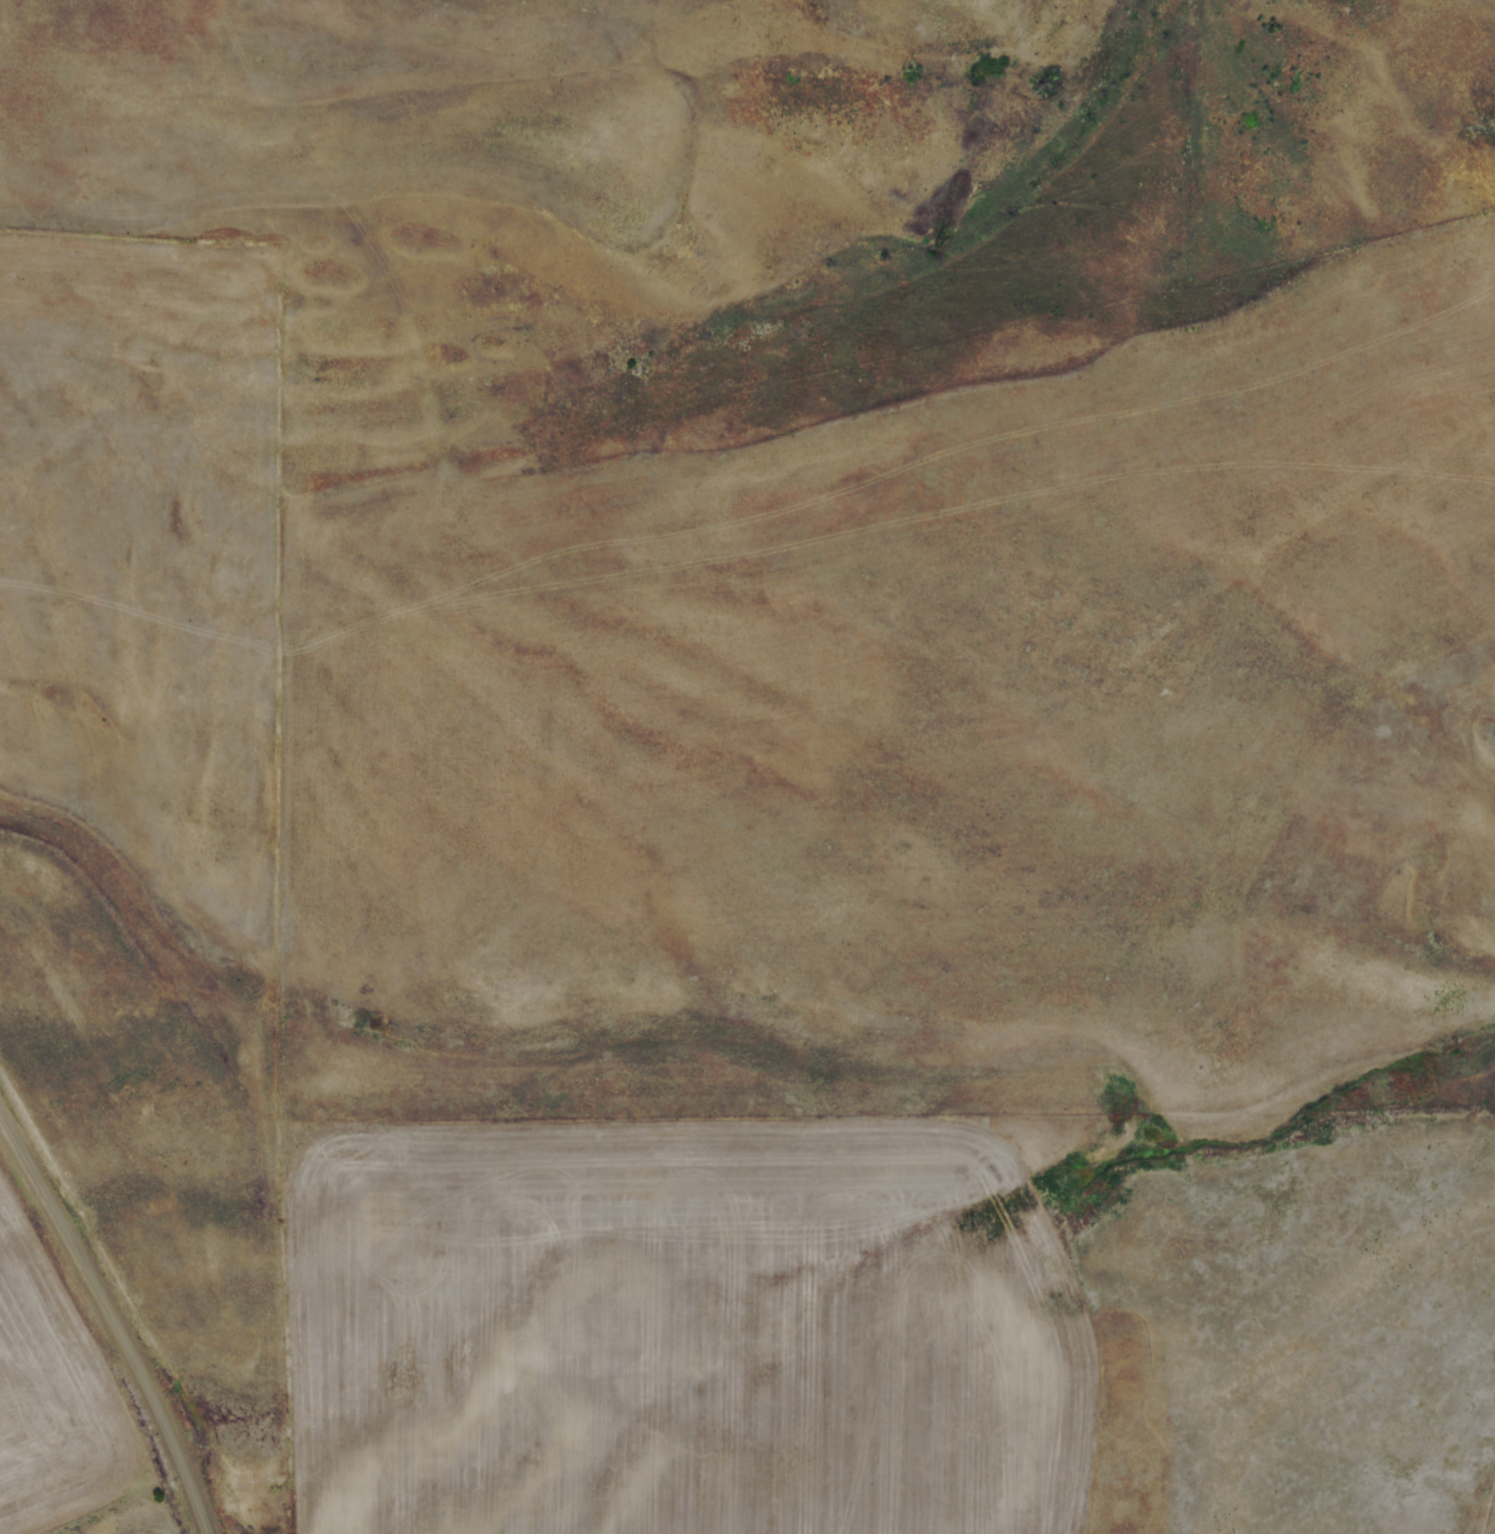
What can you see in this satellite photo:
road: (113, 1319)

